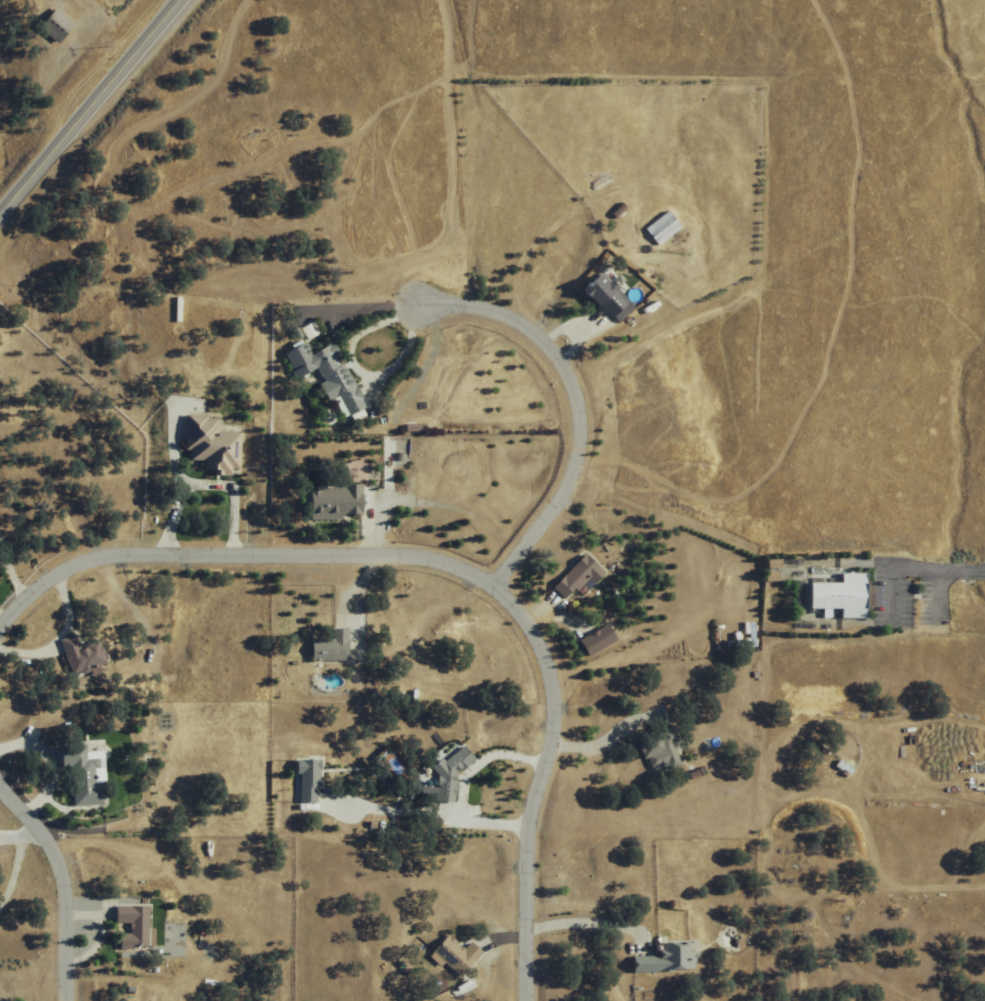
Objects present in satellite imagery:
building: (48, 23)
road: (90, 107)
building: (659, 228)
building: (603, 297)
building: (318, 374)
road: (569, 403)
building: (206, 444)
building: (328, 500)
road: (912, 567)
road: (448, 570)
building: (571, 576)
road: (937, 591)
building: (833, 595)
building: (591, 640)
building: (323, 647)
building: (77, 654)
building: (654, 749)
building: (79, 775)
building: (444, 776)
road: (57, 890)
road: (580, 919)
building: (129, 927)
building: (451, 955)
building: (661, 959)

